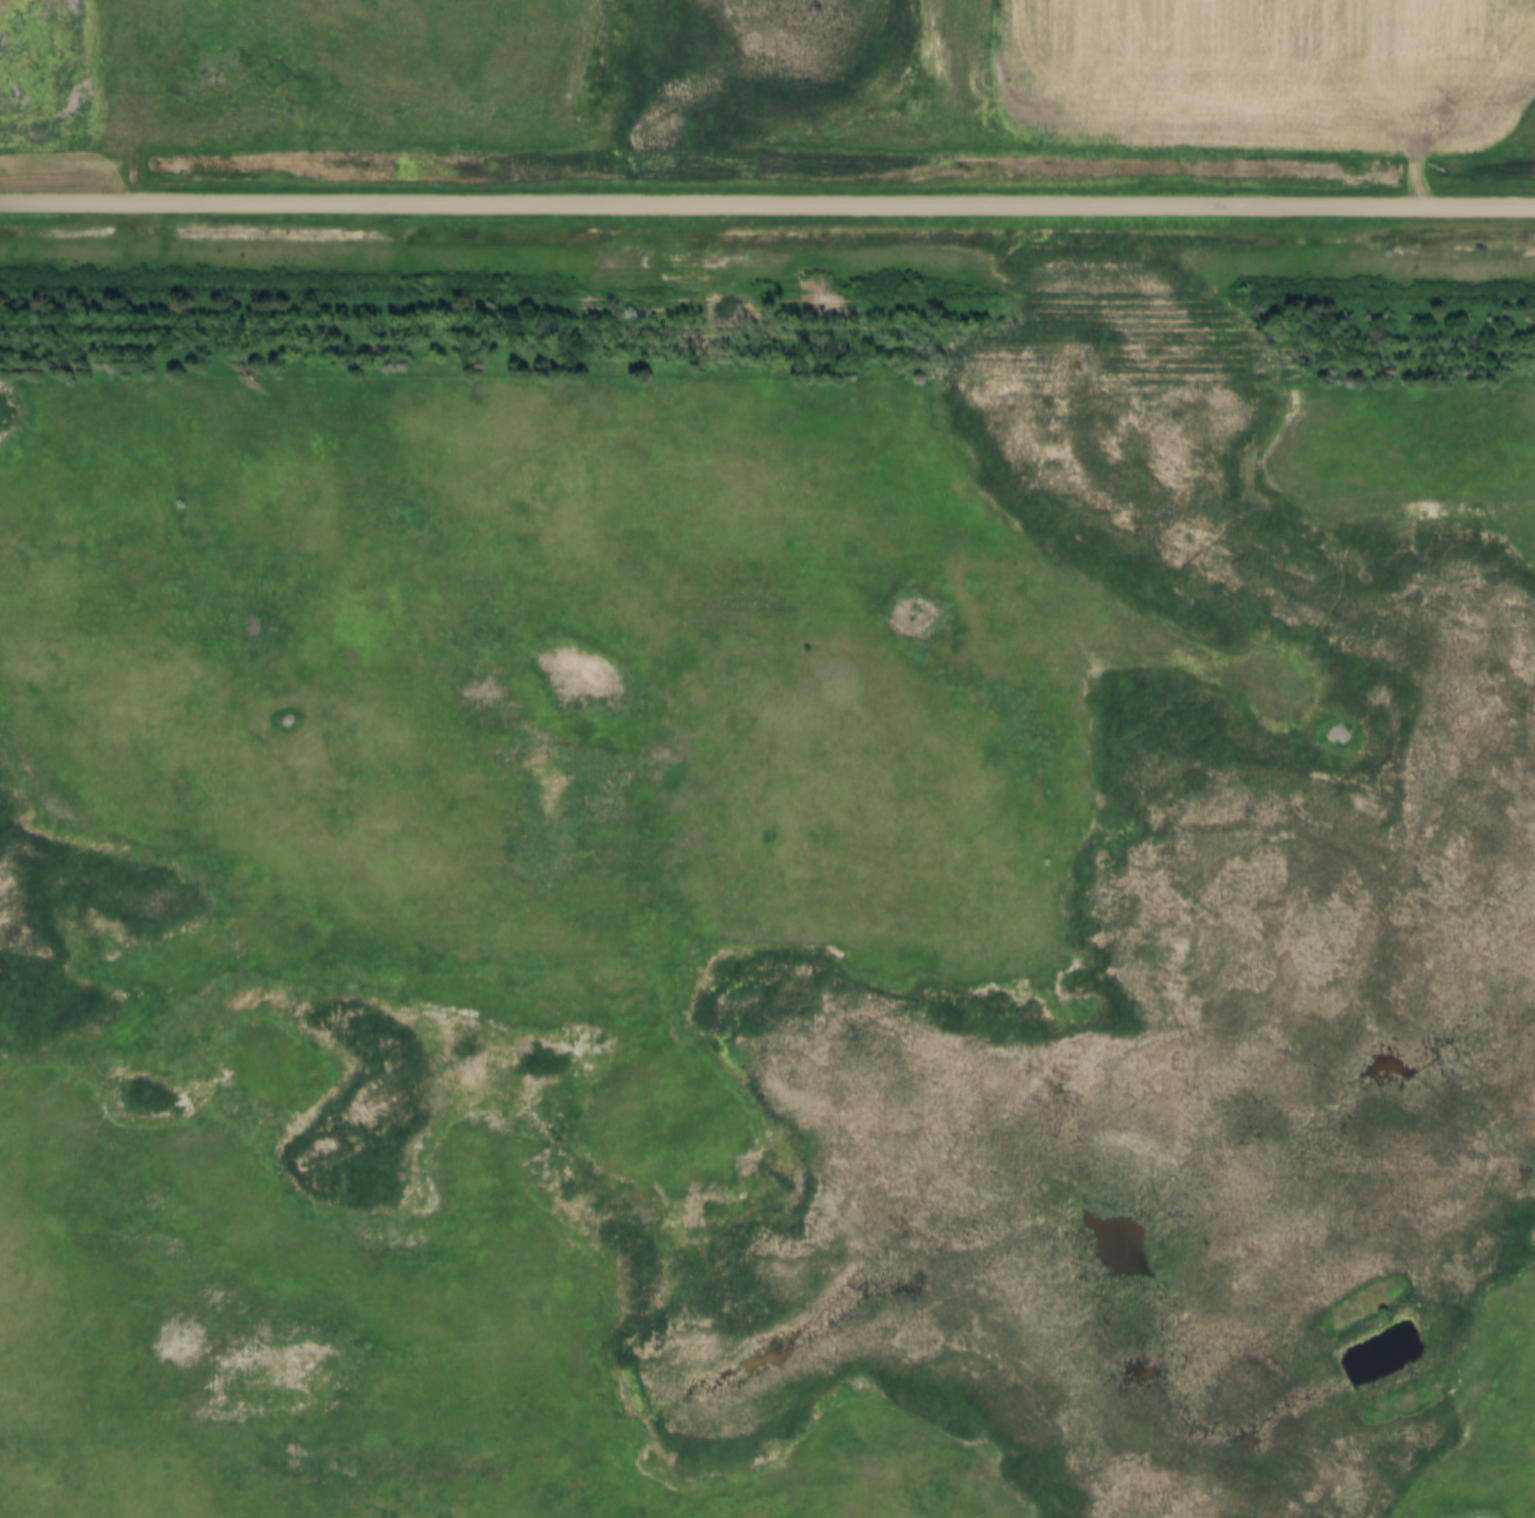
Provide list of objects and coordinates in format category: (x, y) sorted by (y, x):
road: (767, 205)

